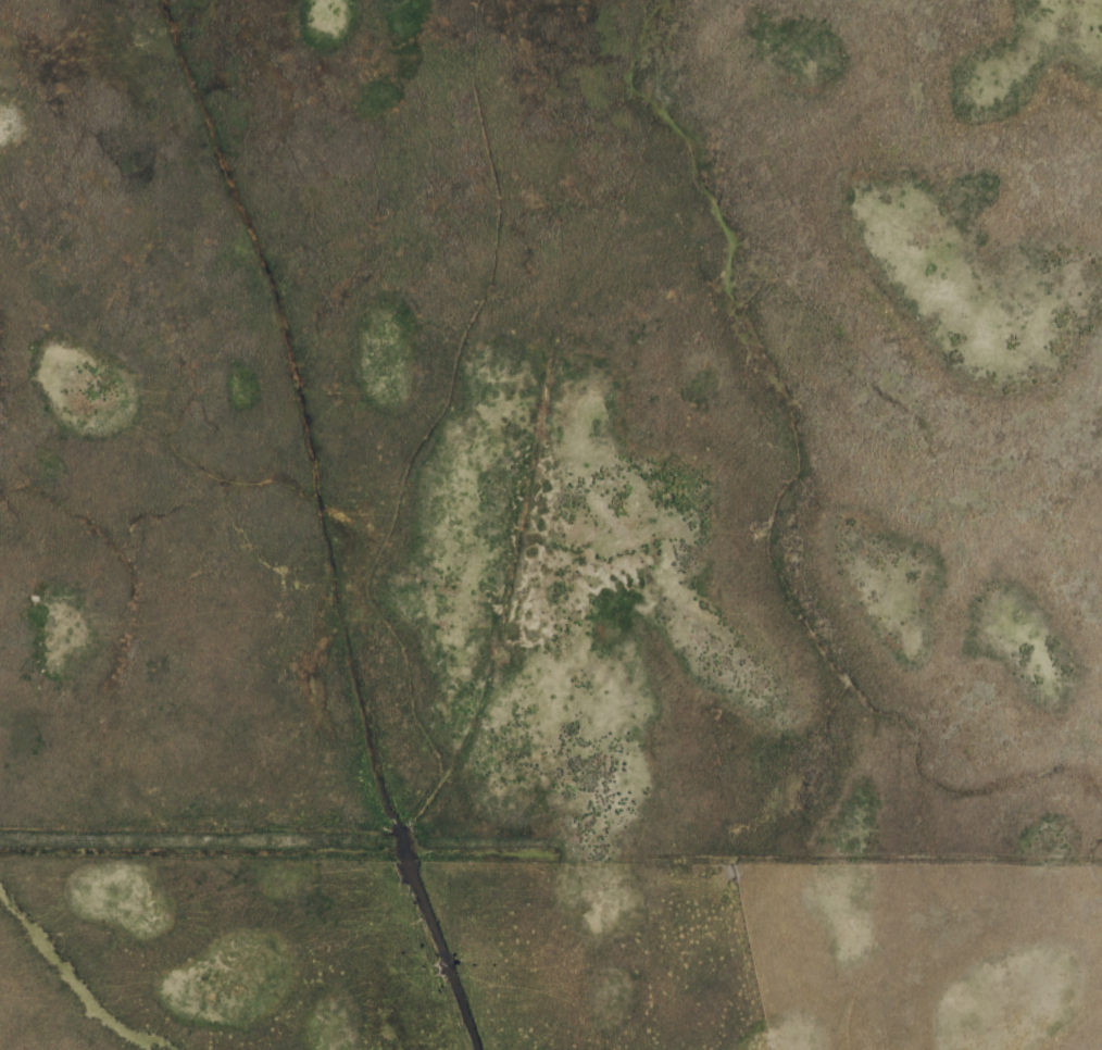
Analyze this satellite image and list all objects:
crop: (551, 525)

